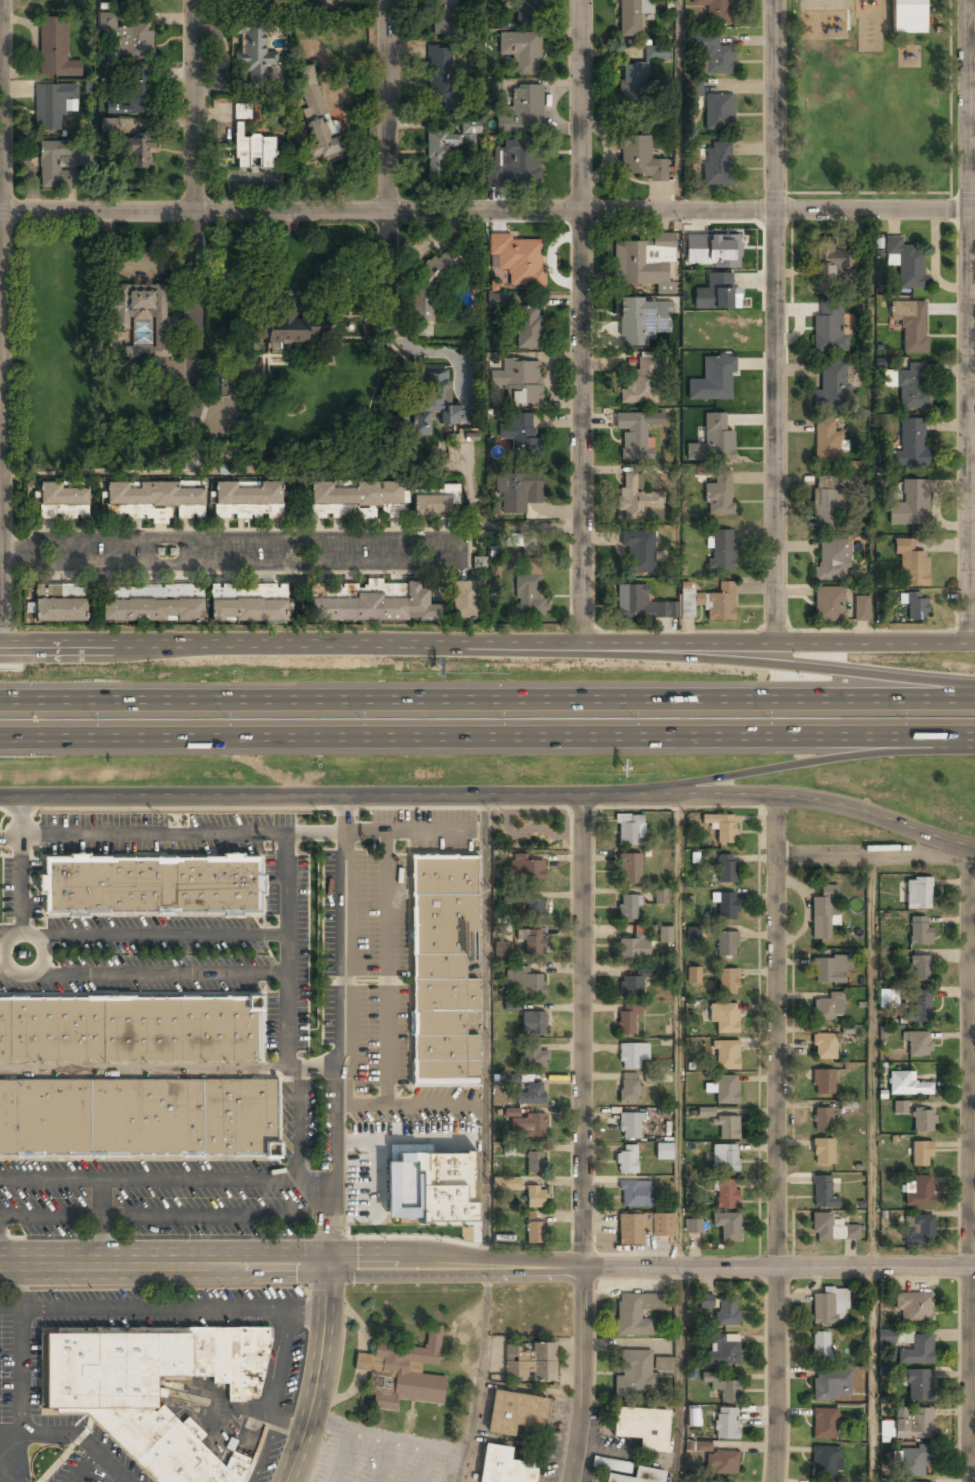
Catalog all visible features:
building: (52, 0)
building: (138, 1)
building: (252, 3)
building: (328, 3)
building: (714, 10)
building: (527, 12)
building: (444, 16)
building: (906, 16)
building: (631, 17)
building: (132, 39)
building: (55, 49)
building: (521, 51)
building: (253, 52)
building: (656, 52)
building: (712, 54)
building: (440, 74)
building: (634, 84)
building: (494, 88)
building: (694, 88)
building: (130, 96)
building: (51, 105)
road: (194, 106)
road: (387, 106)
road: (675, 106)
building: (522, 109)
building: (242, 111)
building: (315, 111)
building: (718, 112)
building: (109, 125)
building: (449, 145)
building: (253, 150)
building: (137, 152)
building: (641, 159)
building: (58, 163)
building: (513, 163)
building: (717, 165)
road: (487, 212)
building: (713, 250)
building: (518, 260)
building: (646, 263)
building: (832, 263)
building: (905, 263)
building: (431, 283)
road: (387, 287)
building: (717, 293)
building: (497, 299)
building: (140, 309)
road: (195, 311)
building: (642, 320)
road: (580, 321)
road: (774, 321)
road: (968, 321)
road: (1, 322)
building: (911, 324)
building: (527, 327)
building: (289, 329)
building: (828, 329)
building: (719, 379)
building: (519, 382)
building: (219, 383)
building: (638, 384)
building: (831, 385)
building: (912, 386)
building: (432, 400)
building: (519, 436)
building: (633, 436)
building: (718, 438)
building: (826, 443)
building: (910, 443)
building: (517, 493)
building: (719, 494)
building: (248, 500)
building: (356, 500)
building: (158, 501)
building: (637, 501)
building: (63, 502)
building: (824, 504)
building: (910, 504)
building: (433, 506)
building: (720, 550)
building: (638, 553)
building: (832, 560)
building: (479, 562)
building: (911, 563)
building: (358, 589)
building: (152, 591)
building: (529, 595)
building: (465, 602)
building: (721, 603)
building: (639, 604)
building: (828, 604)
building: (915, 606)
building: (376, 607)
building: (861, 609)
building: (60, 611)
building: (151, 611)
building: (247, 611)
road: (487, 642)
road: (794, 665)
road: (487, 701)
road: (487, 739)
road: (806, 765)
road: (491, 795)
road: (21, 815)
building: (721, 827)
road: (415, 831)
building: (629, 831)
road: (172, 833)
road: (873, 857)
building: (526, 869)
building: (629, 869)
building: (725, 869)
building: (151, 886)
building: (918, 894)
building: (509, 895)
building: (660, 897)
building: (726, 906)
building: (628, 907)
building: (534, 910)
building: (824, 912)
building: (919, 931)
building: (693, 933)
building: (665, 936)
building: (531, 942)
building: (726, 944)
building: (633, 947)
building: (501, 949)
parking lot: (395, 964)
building: (441, 968)
building: (917, 969)
building: (828, 971)
building: (693, 975)
building: (727, 981)
building: (524, 984)
building: (631, 986)
building: (888, 998)
building: (512, 1005)
building: (920, 1006)
building: (828, 1007)
building: (627, 1019)
building: (725, 1019)
building: (533, 1023)
building: (131, 1029)
road: (344, 1030)
building: (850, 1030)
road: (485, 1031)
road: (681, 1032)
building: (917, 1044)
building: (823, 1046)
building: (726, 1054)
building: (632, 1056)
building: (534, 1058)
building: (823, 1081)
building: (905, 1084)
building: (628, 1088)
building: (726, 1090)
building: (531, 1095)
building: (900, 1107)
building: (512, 1112)
building: (705, 1112)
building: (137, 1119)
building: (822, 1119)
building: (923, 1121)
building: (526, 1126)
building: (629, 1127)
building: (726, 1127)
road: (582, 1138)
road: (777, 1138)
building: (511, 1149)
building: (664, 1152)
building: (823, 1152)
building: (921, 1154)
building: (724, 1159)
building: (627, 1160)
building: (534, 1163)
road: (969, 1164)
road: (872, 1170)
road: (168, 1180)
building: (506, 1183)
building: (918, 1191)
building: (822, 1192)
building: (635, 1194)
building: (726, 1194)
building: (412, 1198)
building: (535, 1198)
road: (166, 1217)
road: (103, 1223)
building: (692, 1226)
building: (727, 1226)
building: (641, 1228)
building: (826, 1228)
building: (918, 1230)
building: (533, 1233)
road: (487, 1267)
building: (706, 1300)
building: (826, 1307)
road: (162, 1308)
building: (914, 1309)
building: (726, 1312)
building: (635, 1314)
building: (886, 1336)
building: (904, 1336)
building: (820, 1346)
building: (917, 1351)
building: (723, 1352)
building: (530, 1363)
road: (23, 1371)
building: (639, 1372)
building: (402, 1374)
road: (681, 1374)
road: (316, 1376)
building: (831, 1386)
building: (919, 1386)
building: (722, 1387)
building: (153, 1391)
road: (279, 1396)
parking lot: (16, 1399)
road: (248, 1413)
building: (515, 1413)
building: (693, 1417)
building: (725, 1423)
building: (824, 1424)
building: (912, 1424)
building: (642, 1428)
building: (886, 1428)
road: (76, 1433)
building: (703, 1446)
road: (1, 1454)
building: (825, 1461)
building: (912, 1462)
building: (606, 1463)
building: (721, 1463)
road: (83, 1465)
building: (504, 1467)
building: (638, 1476)
road: (123, 1479)
building: (927, 1481)

